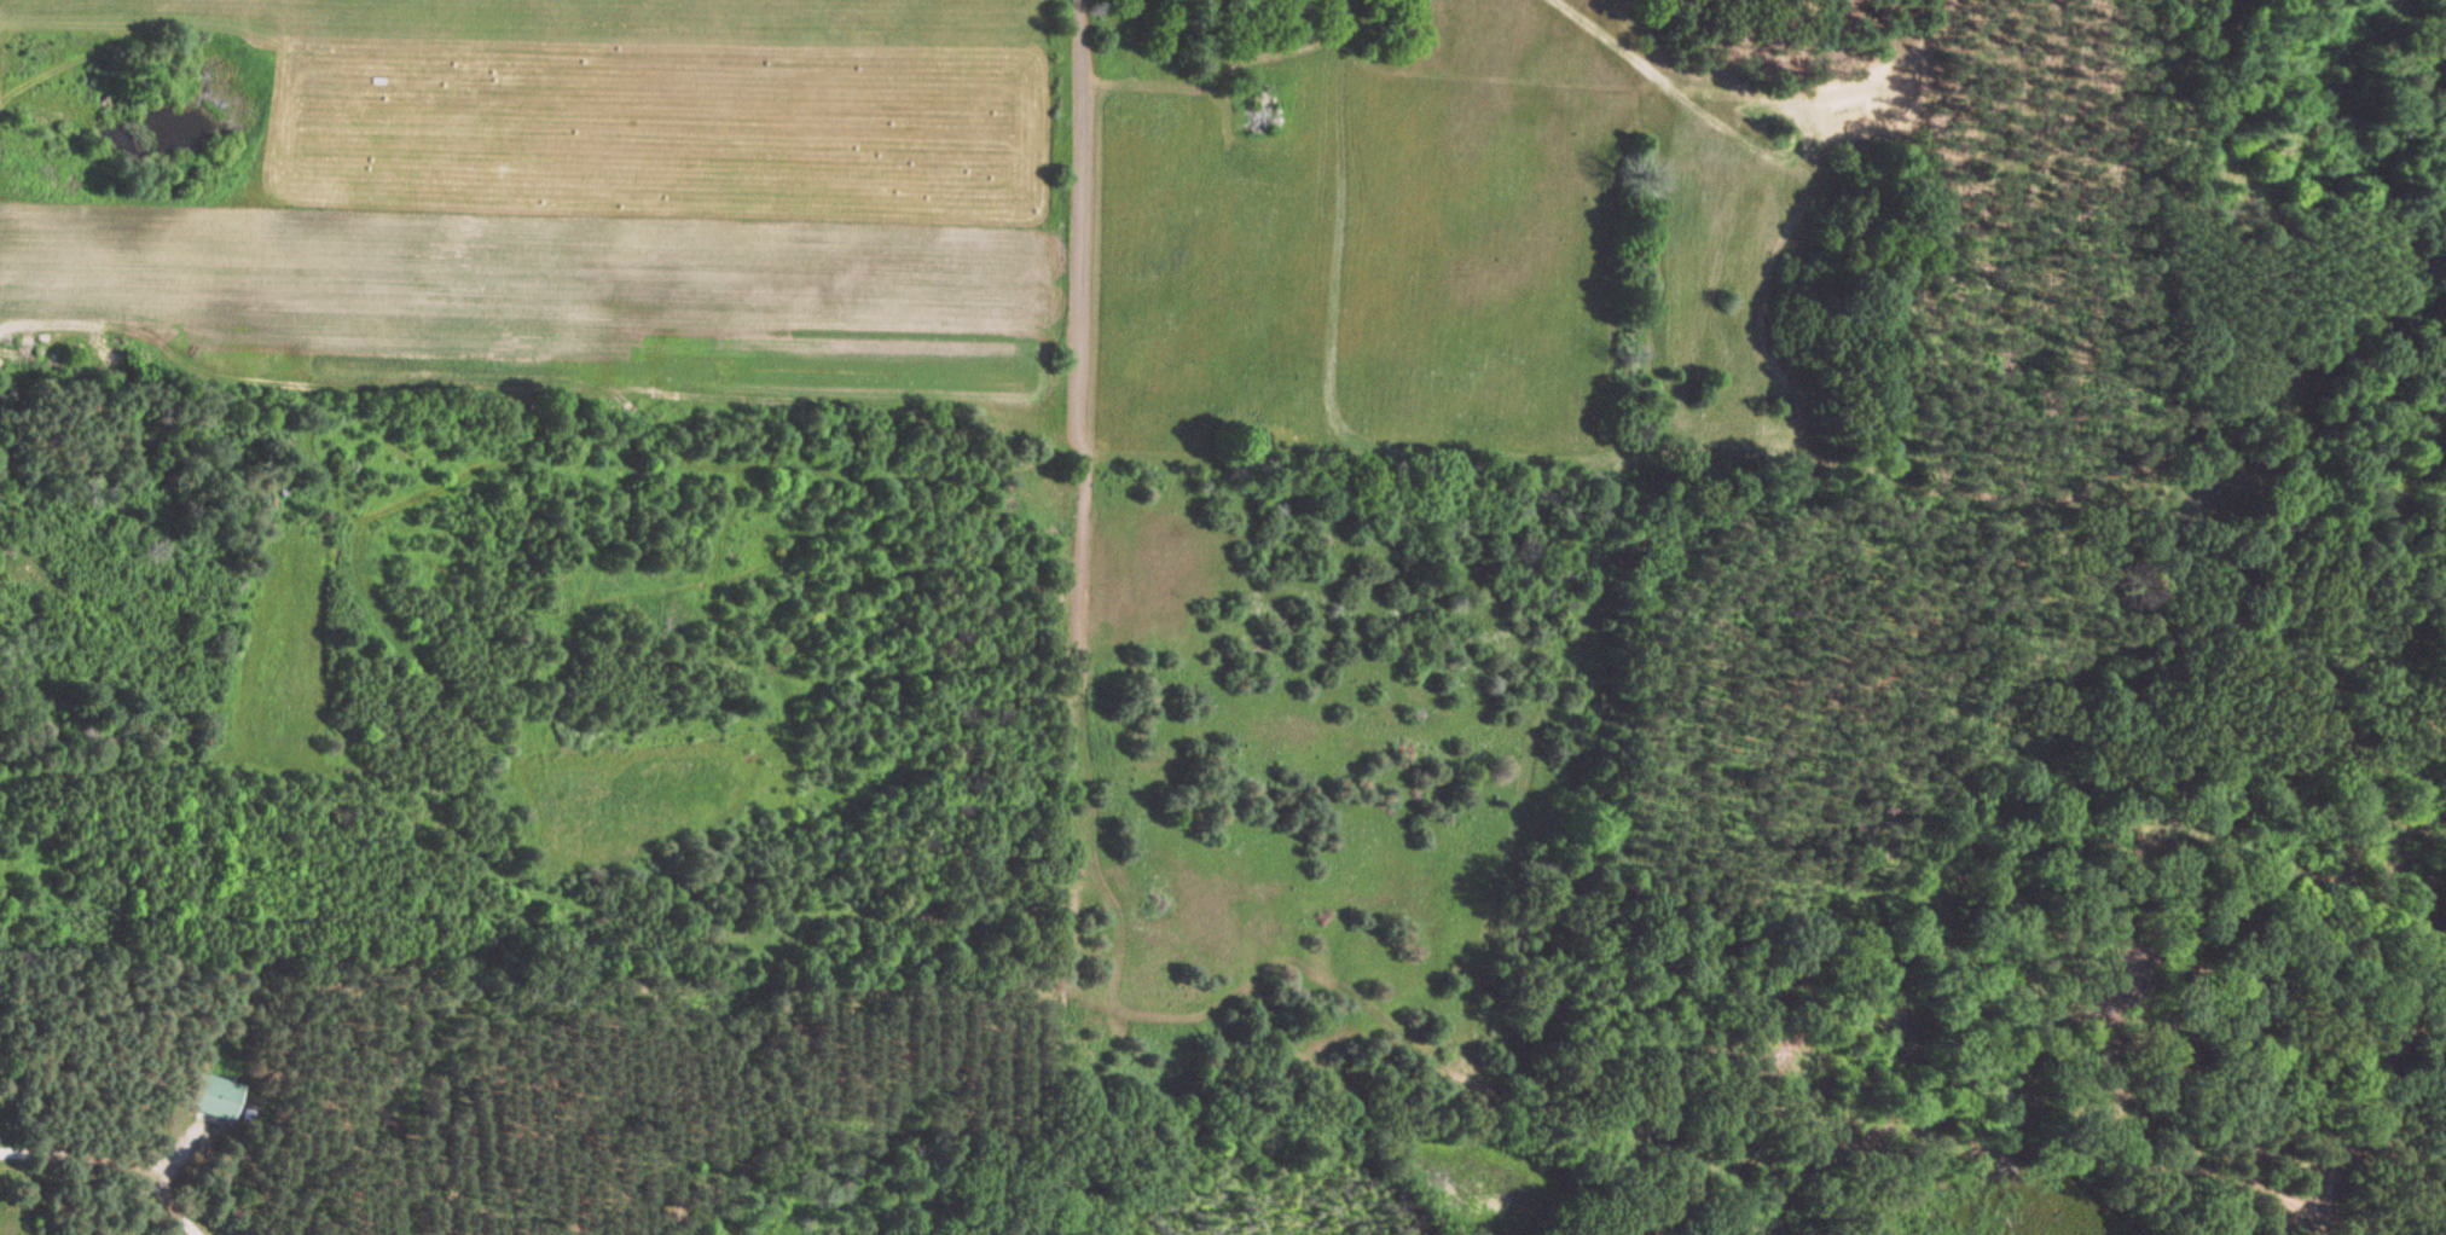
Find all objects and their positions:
building: (213, 1097)

